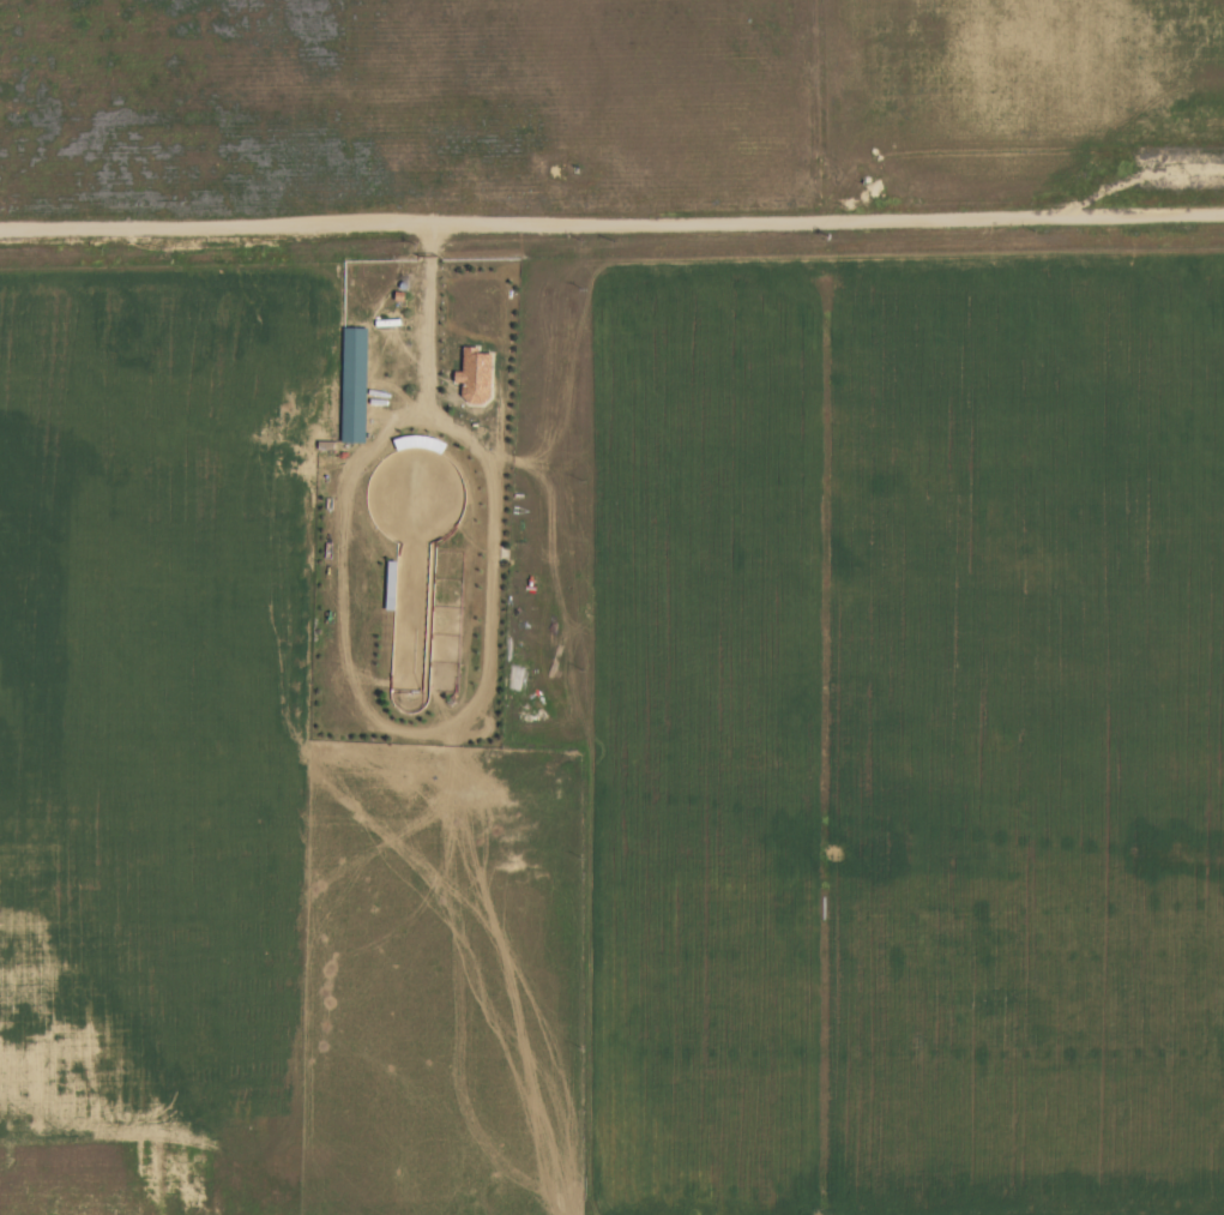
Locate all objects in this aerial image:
road: (611, 239)
building: (476, 377)
building: (355, 385)

